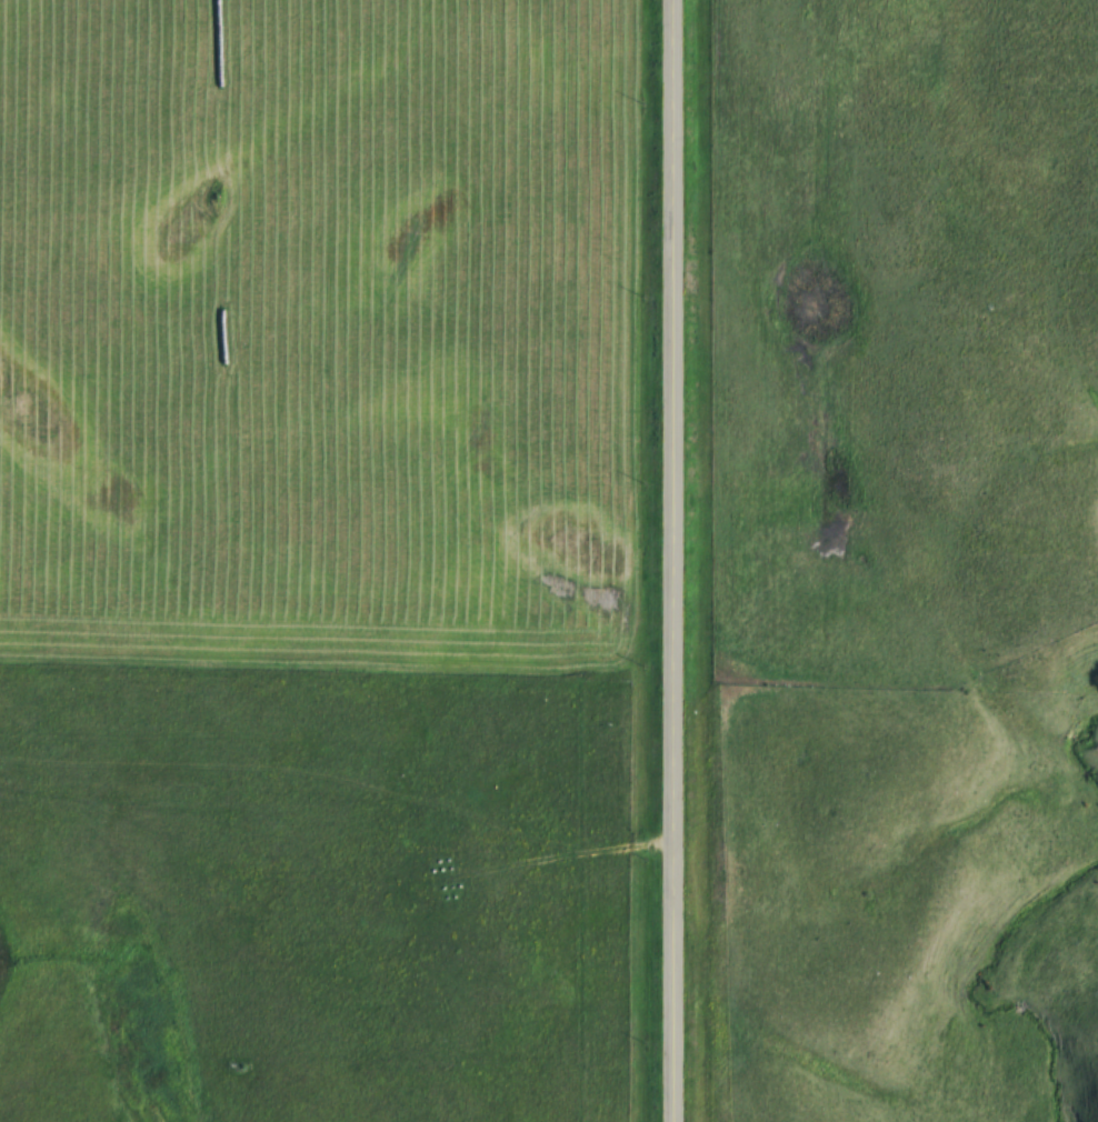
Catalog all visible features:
road: (672, 561)

